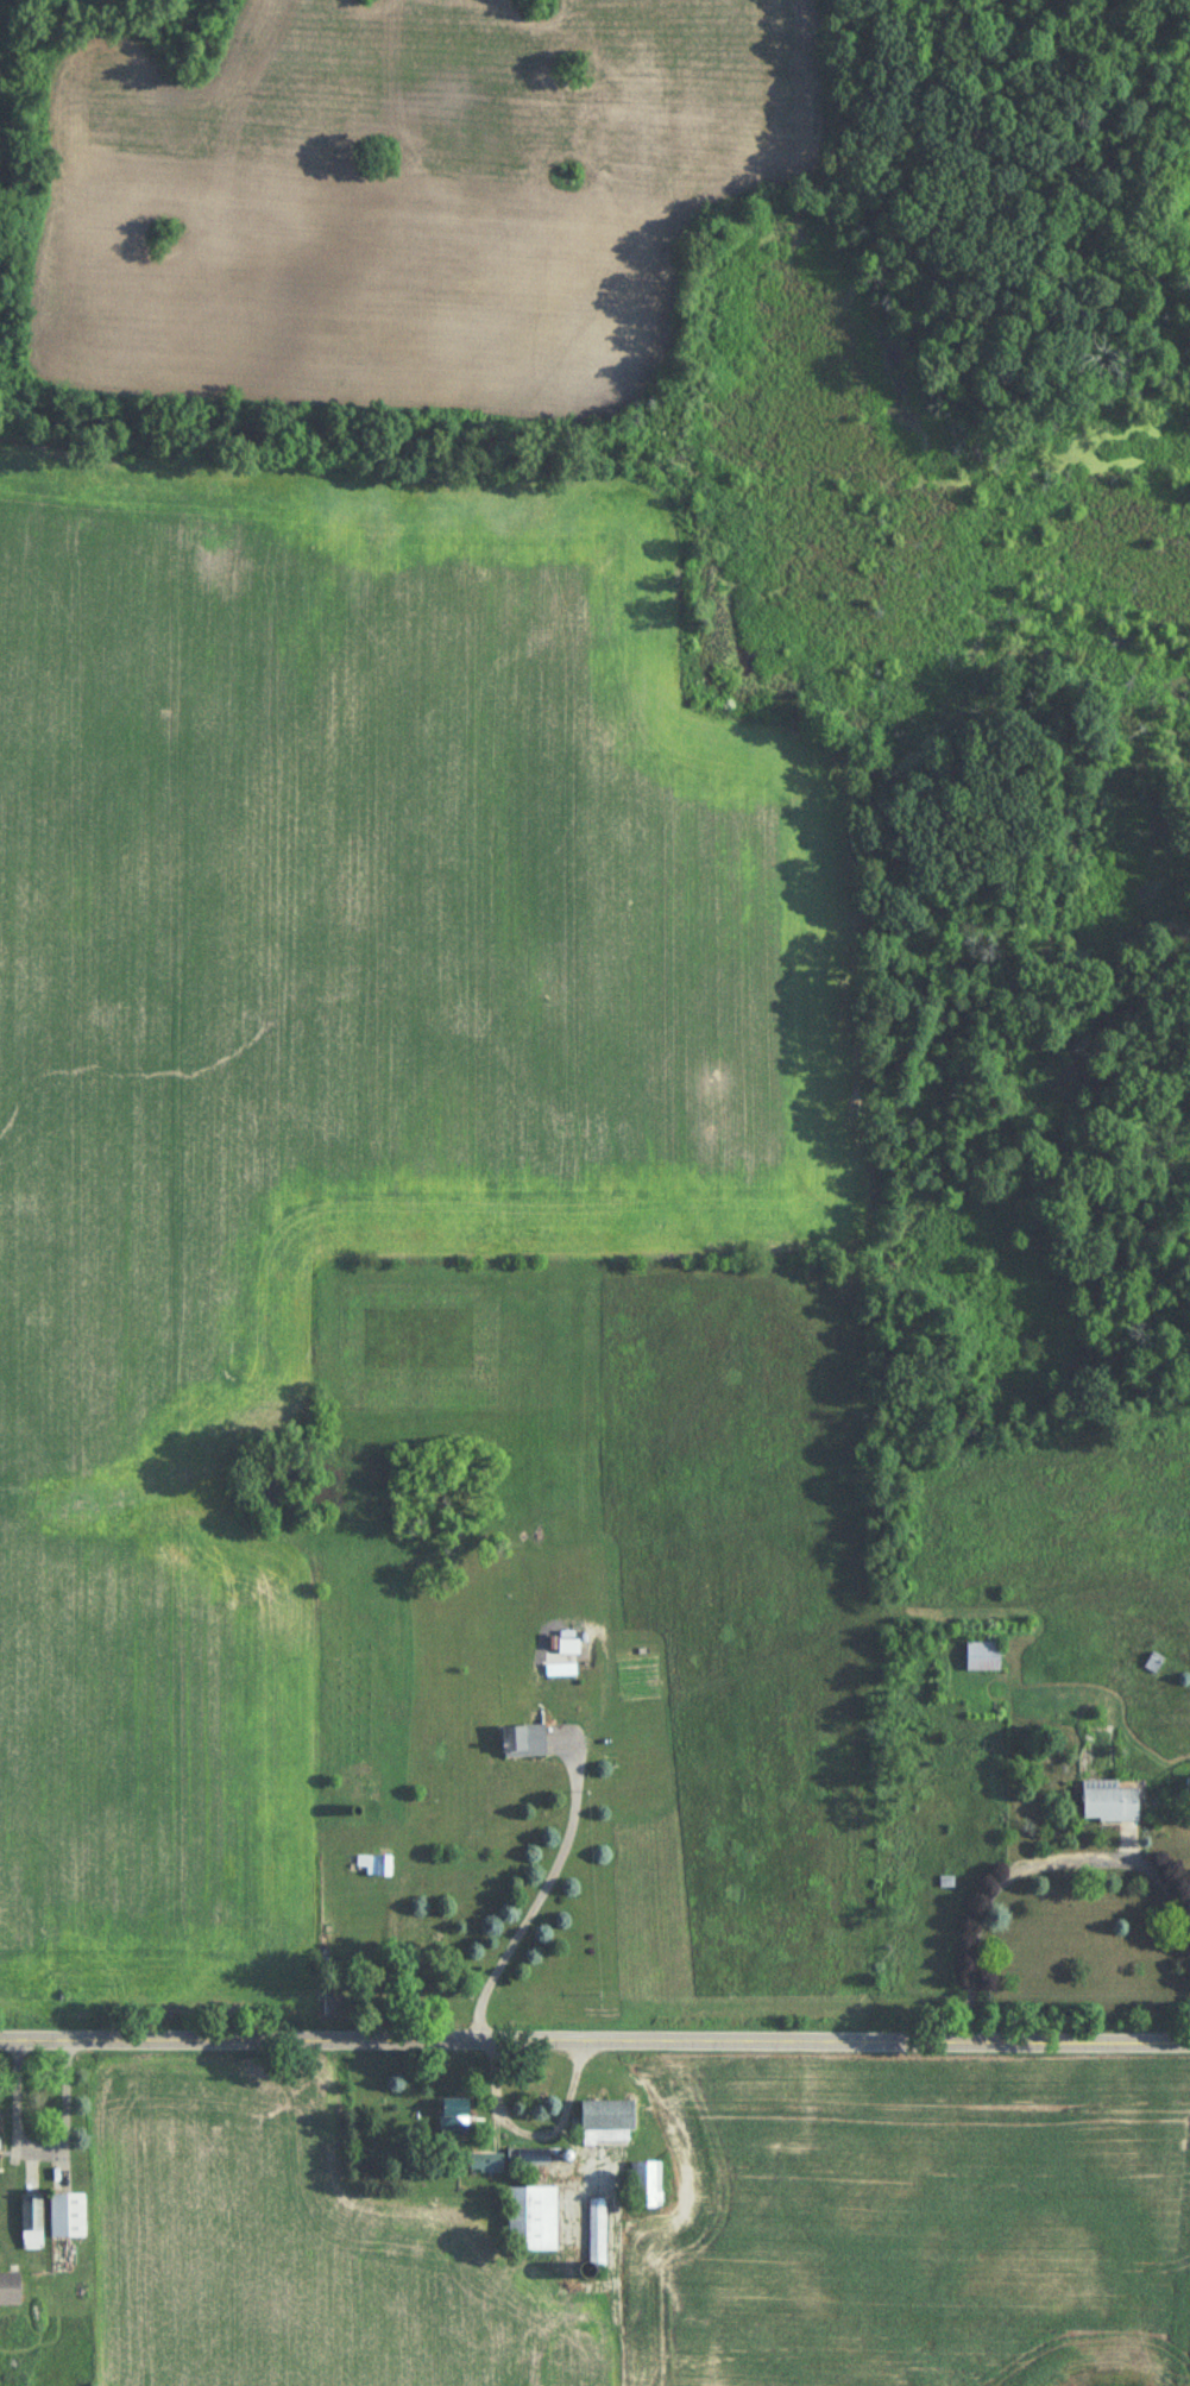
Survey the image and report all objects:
building: (982, 1658)
building: (521, 1742)
building: (1108, 1802)
road: (1035, 1863)
building: (373, 1865)
road: (540, 1889)
road: (594, 2036)
building: (453, 2115)
building: (605, 2122)
road: (535, 2126)
road: (43, 2148)
building: (487, 2164)
building: (646, 2185)
building: (67, 2216)
building: (533, 2218)
building: (31, 2223)
building: (8, 2291)

